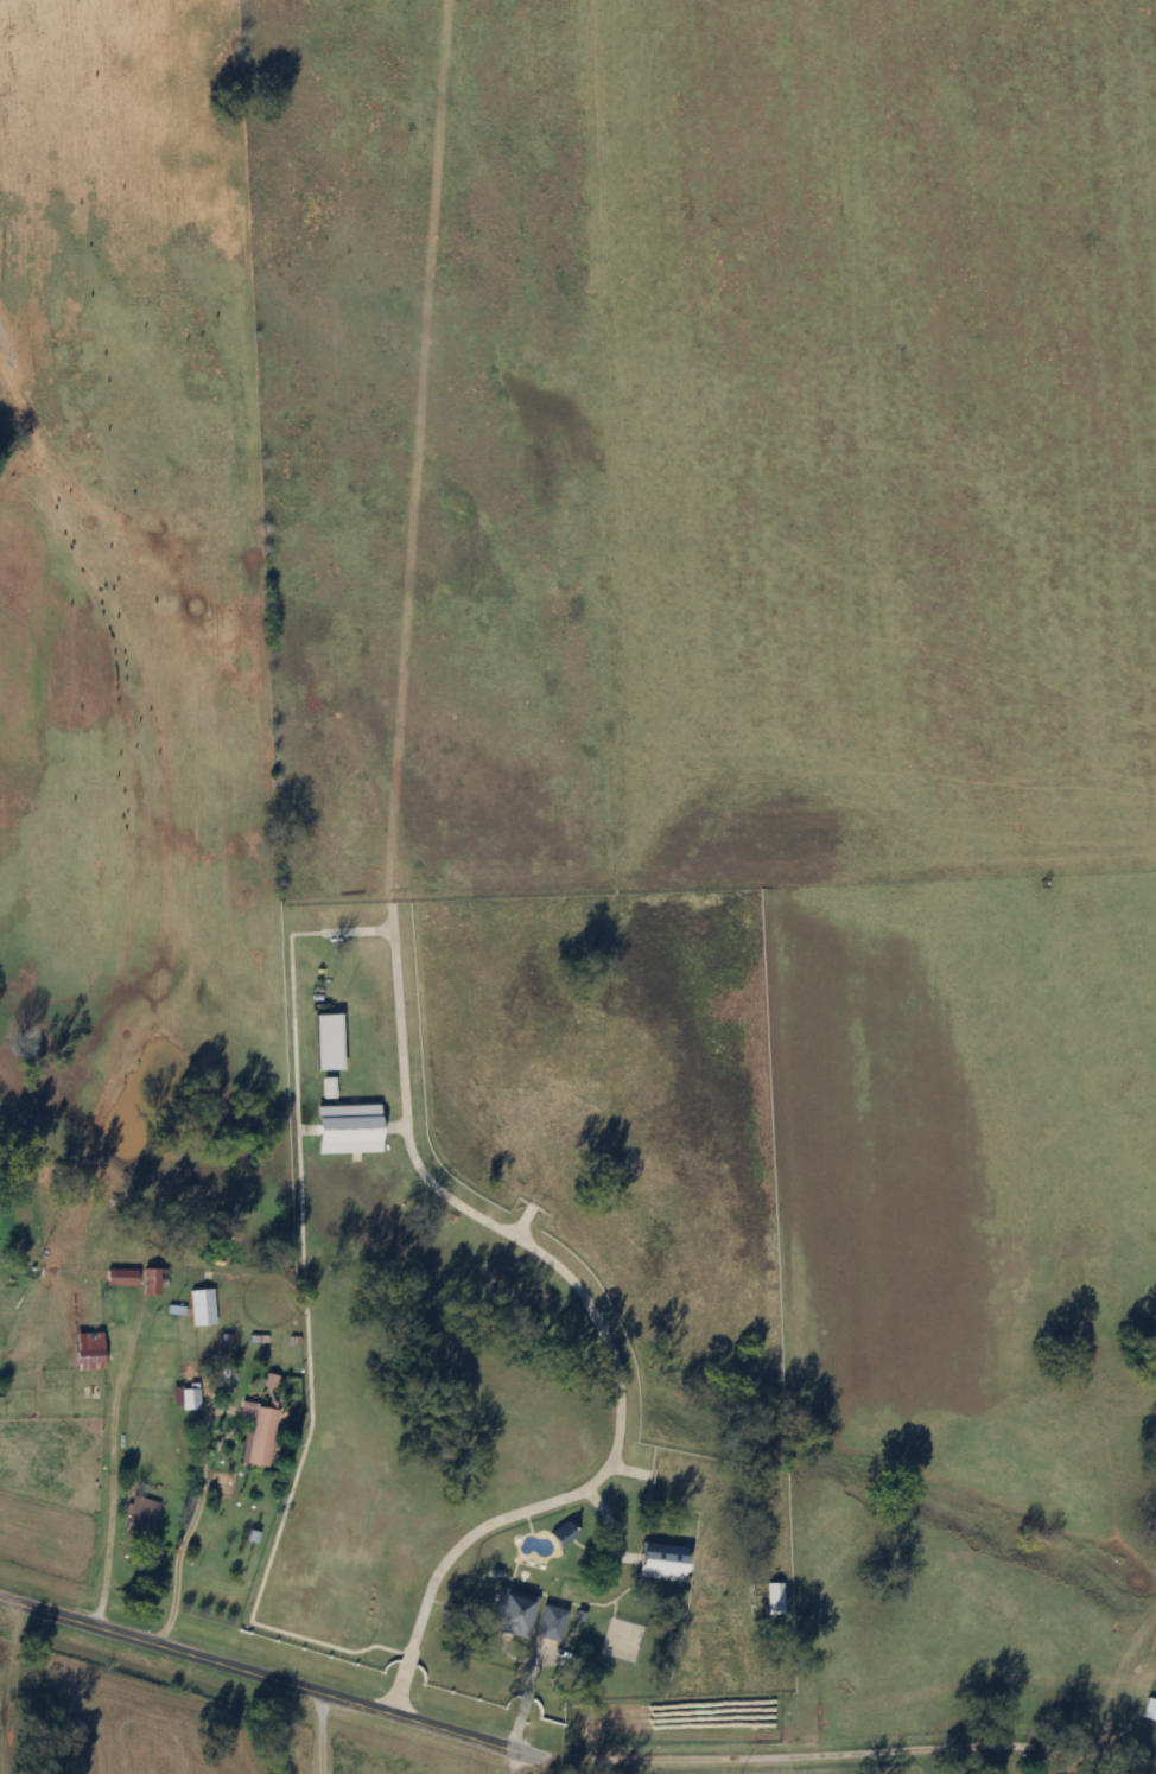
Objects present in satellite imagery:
road: (226, 820)
building: (123, 1278)
building: (154, 1283)
building: (204, 1309)
building: (93, 1352)
building: (192, 1399)
building: (263, 1437)
building: (142, 1518)
building: (552, 1613)
road: (268, 1673)
road: (768, 1741)

